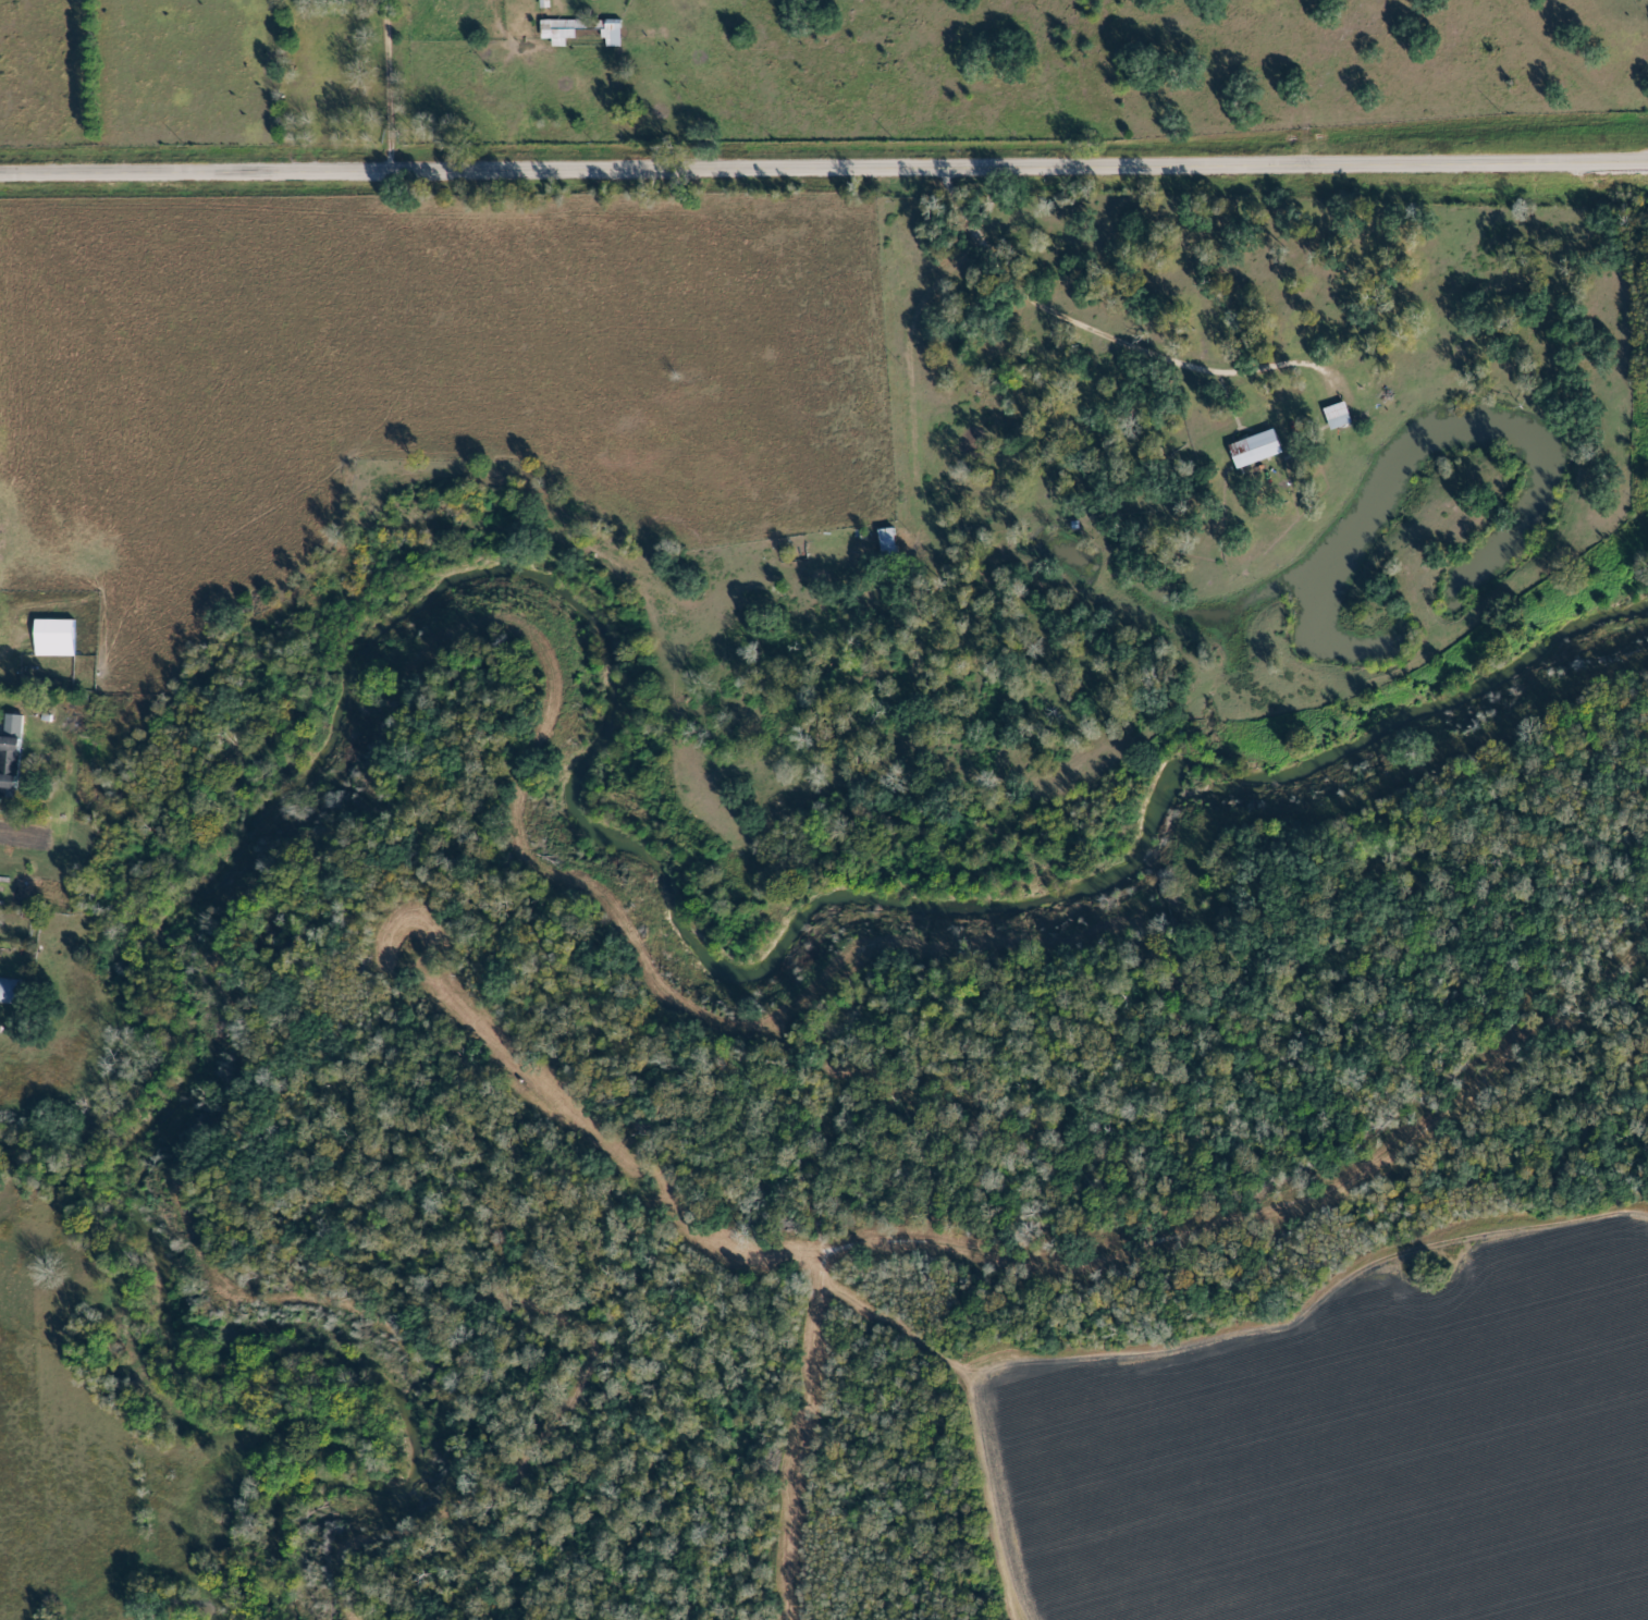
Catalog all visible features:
building: (562, 35)
road: (824, 167)
road: (1205, 296)
building: (1341, 416)
building: (1259, 449)
road: (16, 501)
building: (891, 543)
river: (549, 618)
building: (59, 638)
building: (13, 757)
building: (10, 992)
road: (1033, 1251)
road: (775, 1425)

